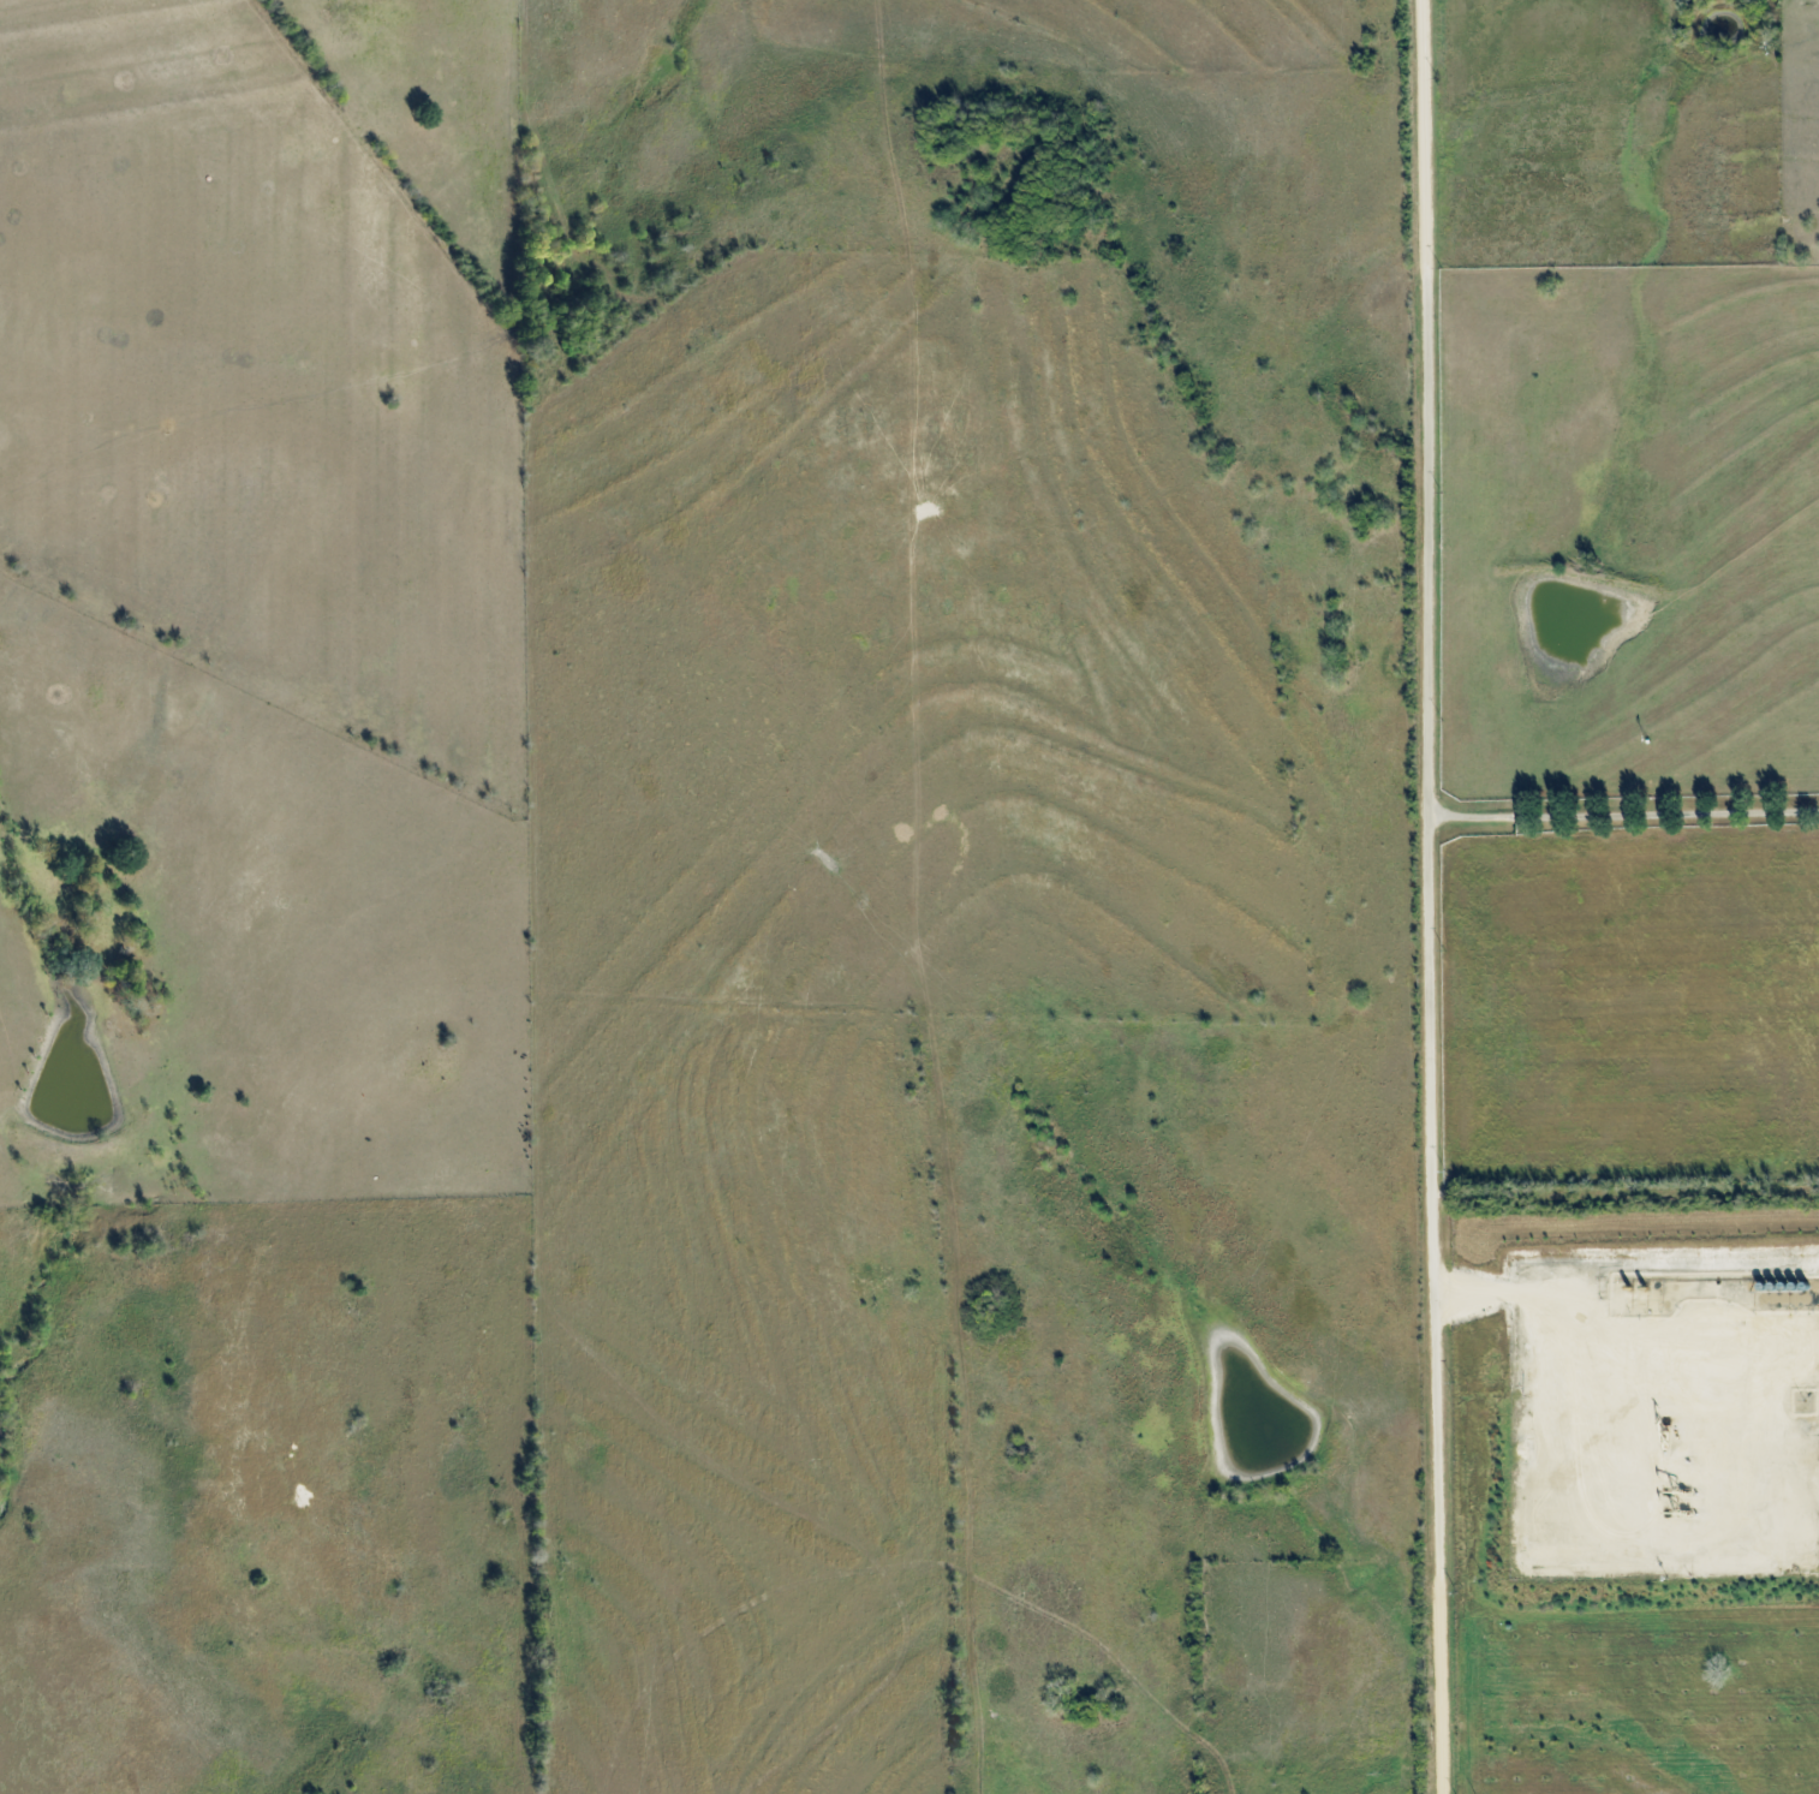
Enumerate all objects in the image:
road: (1622, 809)
road: (1429, 884)
road: (1624, 1188)
road: (1447, 1782)

